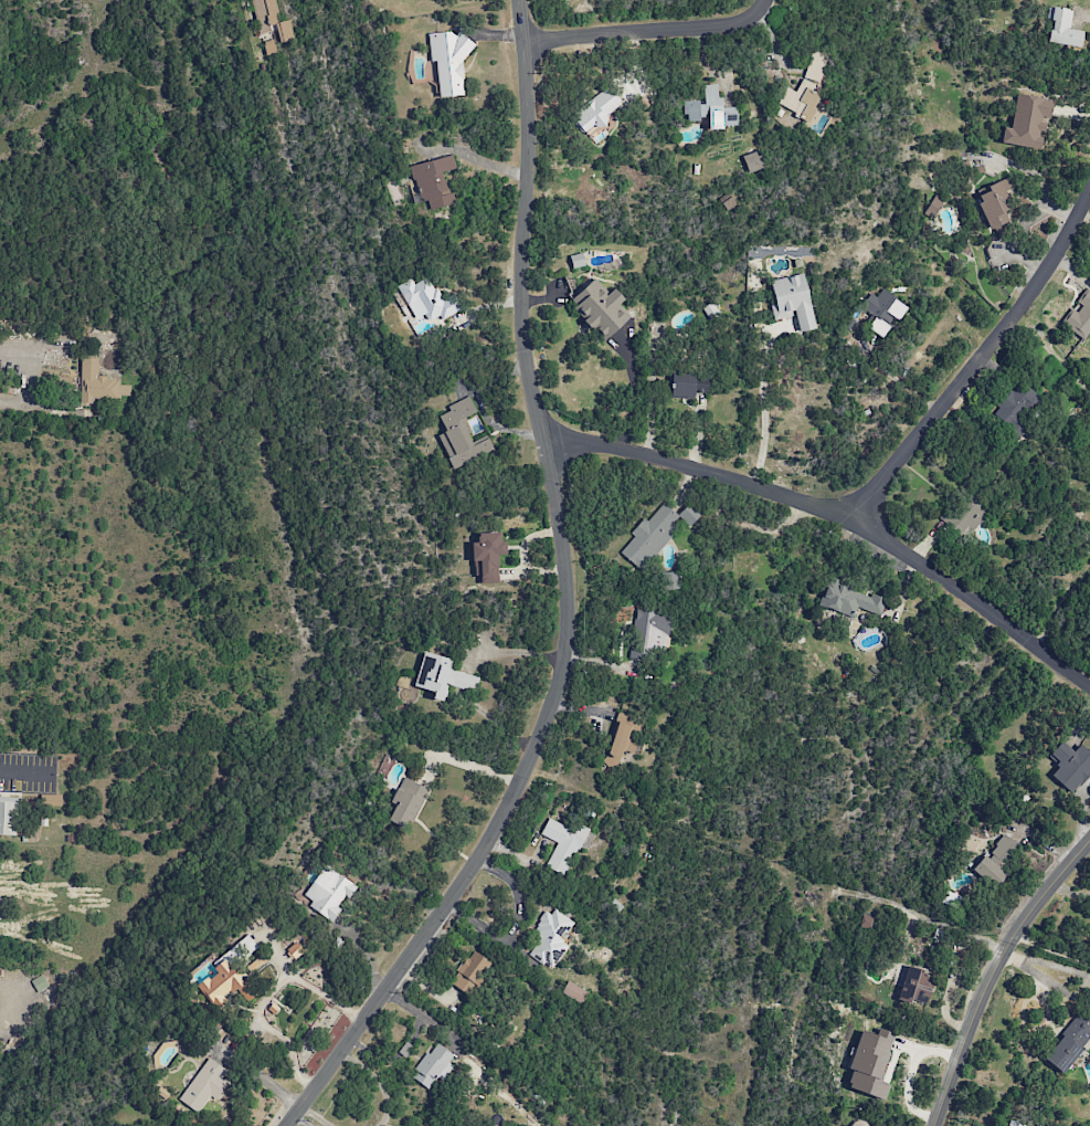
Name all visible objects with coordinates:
road: (761, 7)
building: (272, 20)
road: (250, 28)
building: (1061, 28)
road: (641, 31)
road: (705, 60)
building: (448, 62)
building: (805, 88)
building: (711, 108)
building: (595, 111)
building: (1027, 122)
building: (753, 161)
building: (996, 202)
building: (729, 204)
building: (935, 204)
building: (427, 299)
building: (792, 301)
building: (600, 308)
building: (882, 311)
building: (1079, 316)
road: (977, 361)
road: (25, 380)
building: (98, 383)
building: (687, 385)
road: (762, 406)
building: (1016, 409)
building: (461, 436)
building: (966, 512)
building: (688, 514)
road: (836, 516)
building: (650, 536)
building: (487, 556)
building: (669, 580)
building: (849, 599)
road: (567, 600)
building: (649, 633)
road: (510, 651)
building: (442, 675)
road: (464, 682)
road: (496, 722)
building: (620, 744)
building: (1070, 766)
road: (21, 771)
building: (51, 799)
building: (408, 801)
building: (8, 818)
building: (564, 843)
building: (997, 860)
building: (328, 892)
building: (866, 922)
road: (936, 922)
building: (550, 938)
road: (1009, 957)
road: (1020, 962)
building: (469, 972)
road: (992, 972)
building: (230, 975)
building: (39, 982)
building: (916, 986)
building: (573, 991)
road: (1, 996)
road: (266, 996)
building: (1069, 1042)
building: (870, 1062)
building: (433, 1065)
road: (260, 1078)
road: (377, 1080)
building: (204, 1085)
road: (316, 1115)
building: (1014, 1123)
building: (417, 1125)

